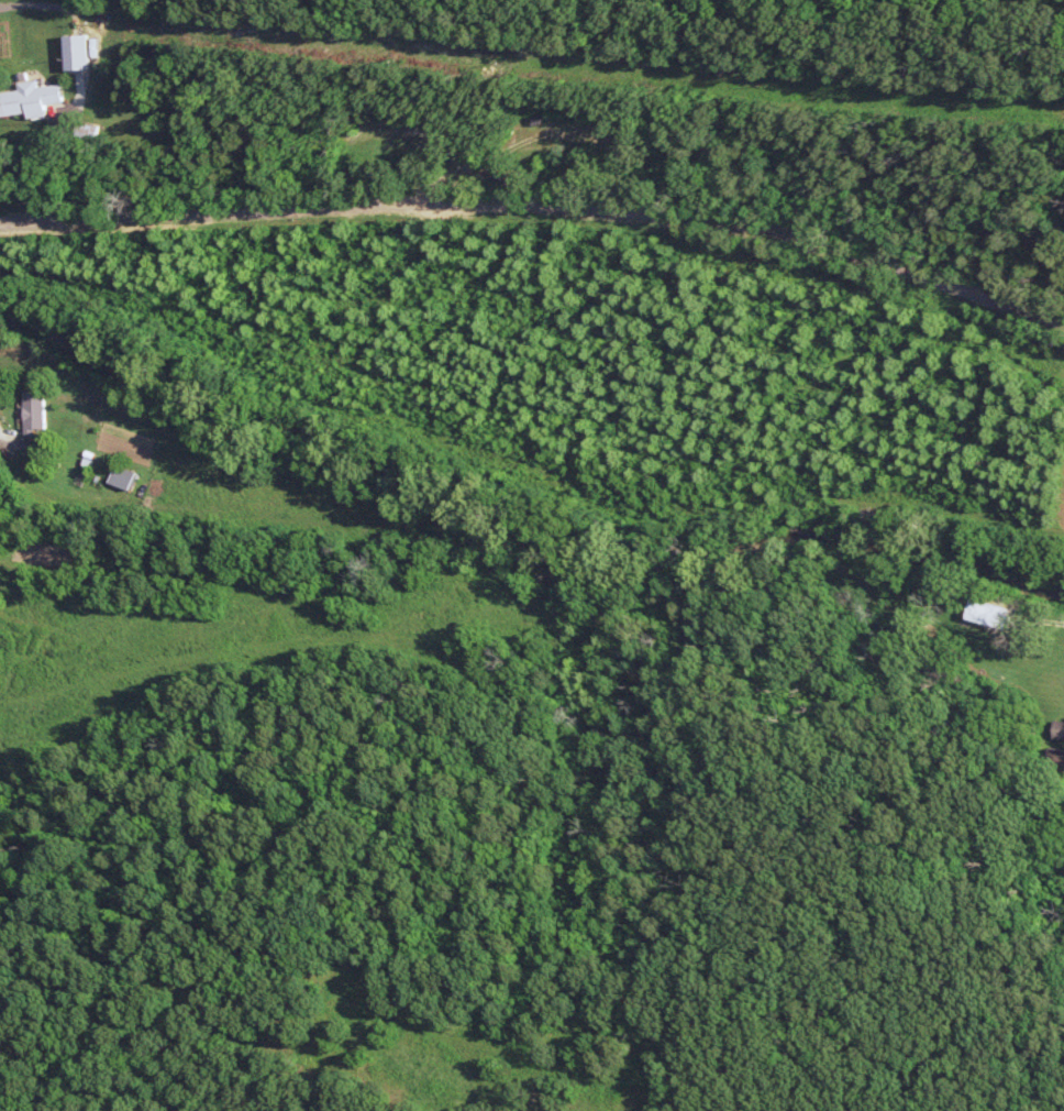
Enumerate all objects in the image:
building: (80, 52)
building: (32, 100)
road: (88, 101)
road: (540, 208)
building: (40, 411)
building: (994, 614)
building: (1061, 730)

